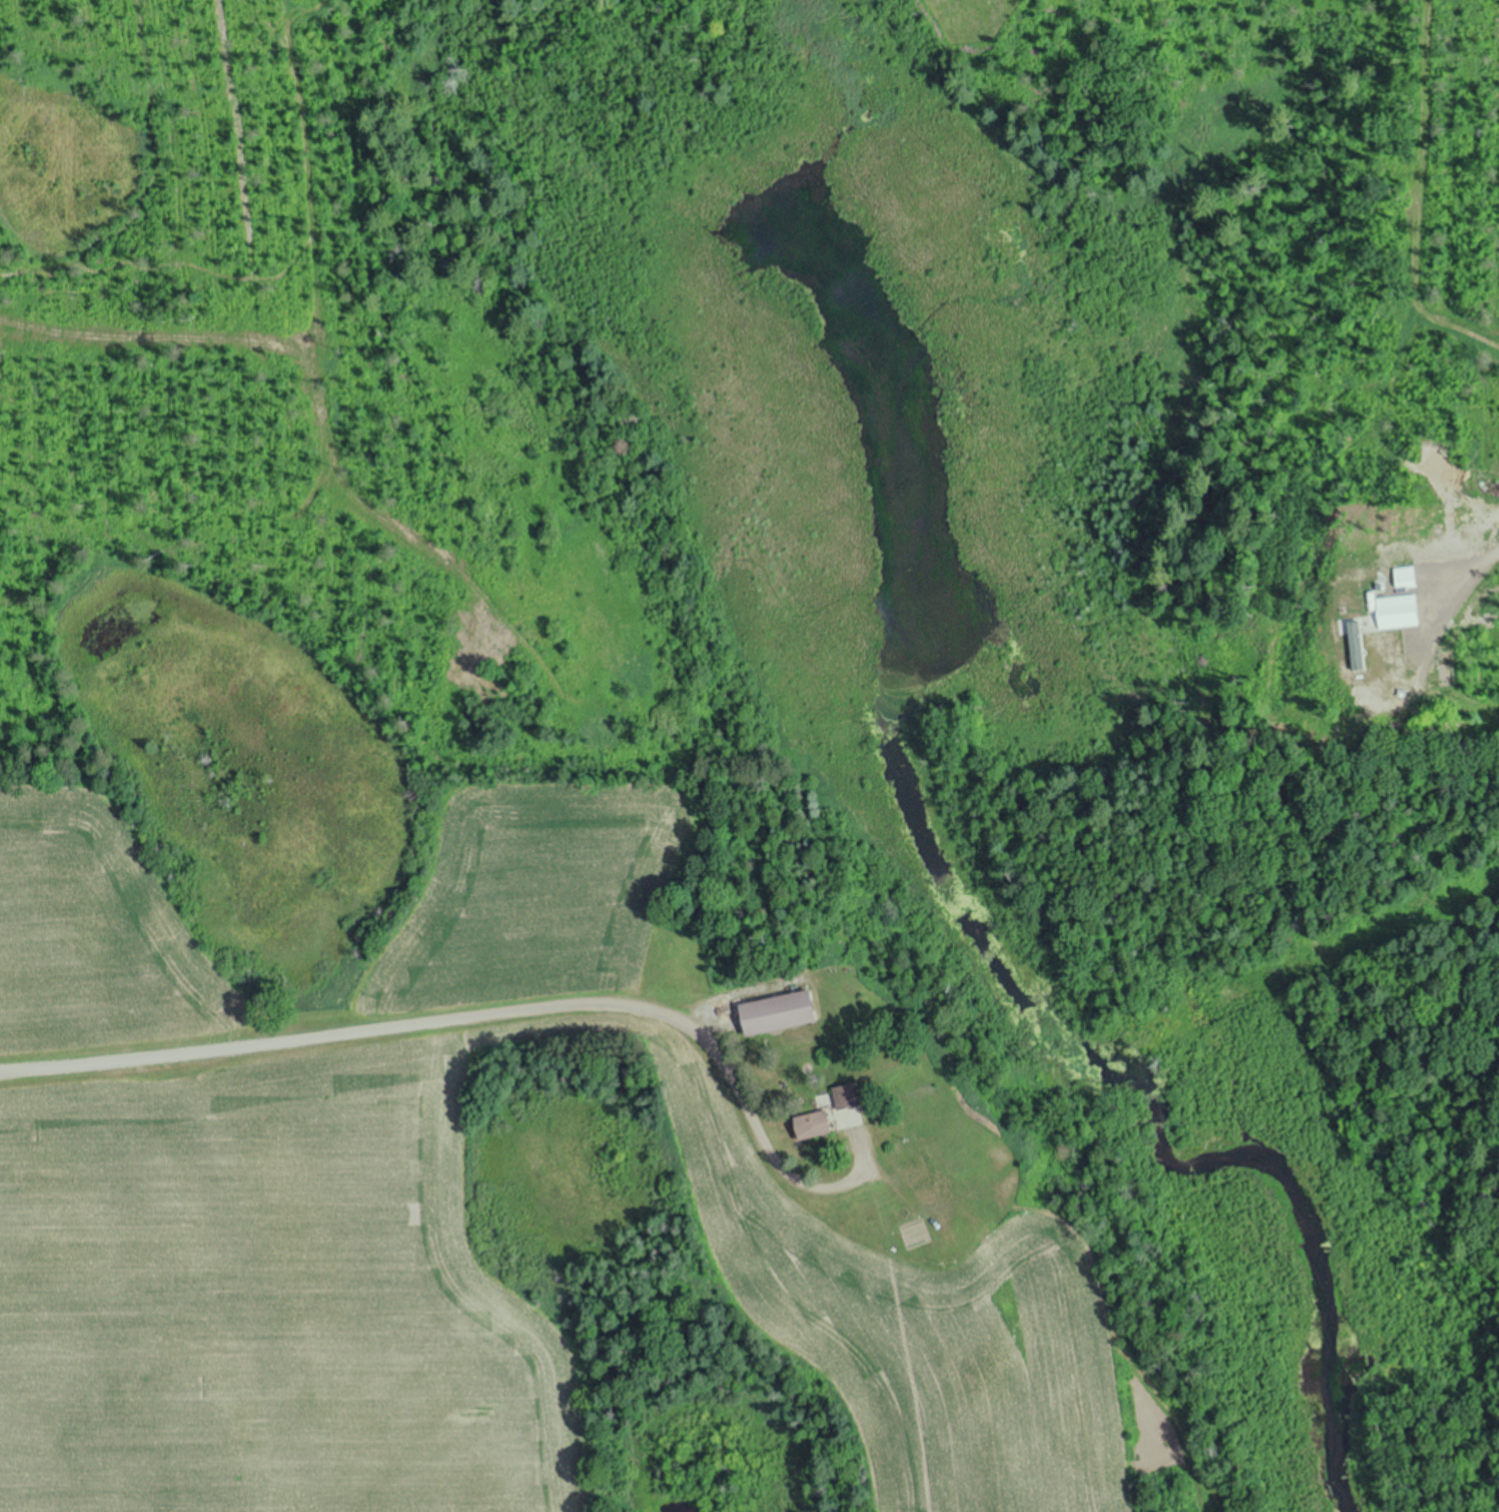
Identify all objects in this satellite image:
building: (785, 1011)
building: (850, 1096)
building: (820, 1122)

